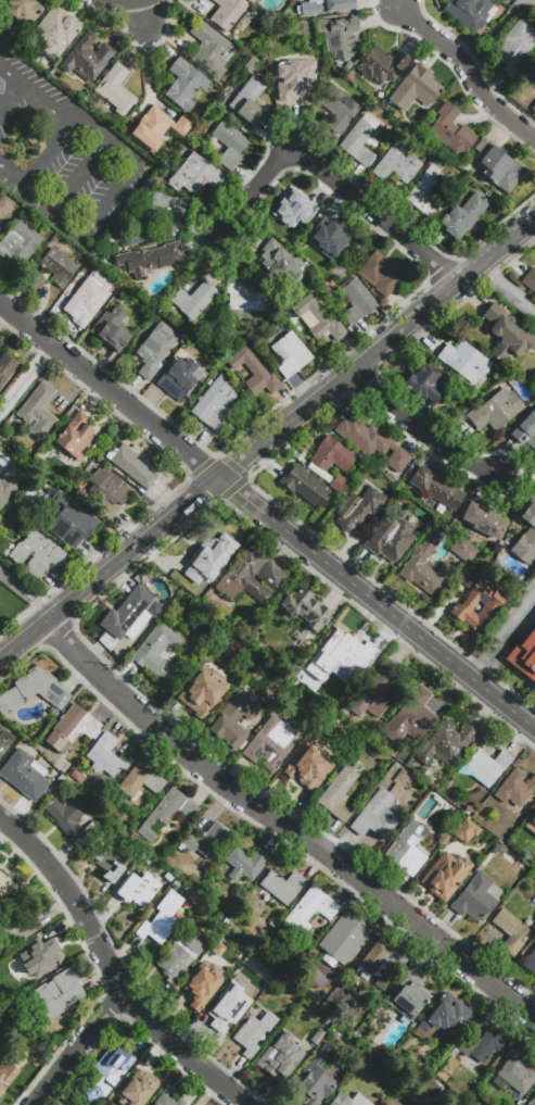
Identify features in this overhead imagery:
building: (326, 5)
building: (471, 12)
building: (227, 13)
building: (23, 15)
road: (145, 16)
building: (54, 33)
building: (340, 37)
building: (515, 47)
building: (209, 49)
building: (87, 58)
building: (381, 64)
road: (464, 67)
building: (284, 72)
building: (184, 84)
building: (115, 89)
building: (416, 89)
road: (11, 93)
building: (249, 100)
building: (534, 106)
building: (337, 113)
road: (71, 116)
building: (157, 128)
building: (453, 130)
building: (359, 139)
building: (229, 145)
building: (23, 147)
parking lot: (64, 154)
building: (396, 164)
building: (499, 167)
building: (195, 174)
road: (11, 175)
road: (79, 176)
road: (331, 177)
building: (425, 194)
road: (111, 202)
building: (294, 208)
building: (167, 212)
building: (462, 216)
building: (321, 229)
building: (18, 242)
building: (327, 242)
building: (151, 258)
building: (281, 261)
building: (59, 266)
building: (380, 274)
building: (530, 278)
building: (38, 281)
road: (508, 285)
building: (89, 297)
building: (244, 297)
building: (193, 300)
building: (356, 302)
building: (317, 319)
building: (110, 329)
building: (489, 334)
building: (525, 344)
road: (378, 347)
building: (154, 349)
building: (290, 354)
building: (464, 361)
building: (5, 366)
building: (253, 372)
building: (181, 378)
road: (26, 381)
building: (429, 381)
road: (110, 391)
building: (214, 403)
building: (38, 410)
building: (496, 410)
building: (526, 430)
road: (422, 432)
building: (75, 437)
building: (371, 442)
building: (332, 455)
building: (130, 465)
building: (10, 484)
building: (341, 485)
building: (305, 486)
building: (435, 489)
building: (534, 489)
building: (109, 491)
building: (359, 508)
building: (69, 520)
building: (484, 520)
building: (525, 535)
building: (390, 538)
building: (209, 545)
building: (463, 549)
building: (36, 553)
building: (424, 566)
road: (110, 568)
building: (176, 569)
building: (271, 576)
building: (244, 579)
building: (469, 579)
road: (26, 592)
road: (378, 604)
building: (476, 606)
building: (305, 610)
building: (128, 615)
building: (263, 635)
road: (502, 638)
building: (155, 648)
building: (328, 655)
building: (524, 657)
building: (347, 676)
building: (34, 690)
building: (204, 690)
building: (374, 691)
building: (410, 717)
building: (232, 721)
building: (72, 729)
building: (447, 742)
building: (269, 743)
building: (3, 748)
building: (104, 757)
building: (488, 765)
building: (306, 770)
building: (25, 774)
building: (140, 782)
building: (515, 788)
building: (339, 794)
building: (167, 813)
building: (375, 816)
building: (67, 818)
building: (531, 825)
road: (283, 828)
building: (466, 830)
building: (205, 837)
building: (518, 842)
building: (407, 847)
building: (113, 861)
building: (245, 863)
building: (445, 876)
building: (3, 886)
building: (282, 886)
building: (137, 889)
building: (477, 897)
building: (309, 911)
building: (162, 918)
building: (15, 929)
building: (511, 932)
building: (343, 939)
building: (217, 949)
building: (180, 956)
building: (41, 957)
building: (379, 957)
building: (531, 965)
road: (111, 971)
building: (204, 982)
building: (58, 993)
building: (408, 994)
building: (222, 1012)
building: (447, 1015)
building: (254, 1031)
building: (318, 1037)
building: (480, 1043)
road: (75, 1046)
building: (22, 1055)
building: (281, 1056)
building: (107, 1072)
building: (517, 1072)
building: (315, 1079)
building: (3, 1084)
building: (138, 1089)
building: (166, 1100)
building: (349, 1100)
building: (532, 1102)

